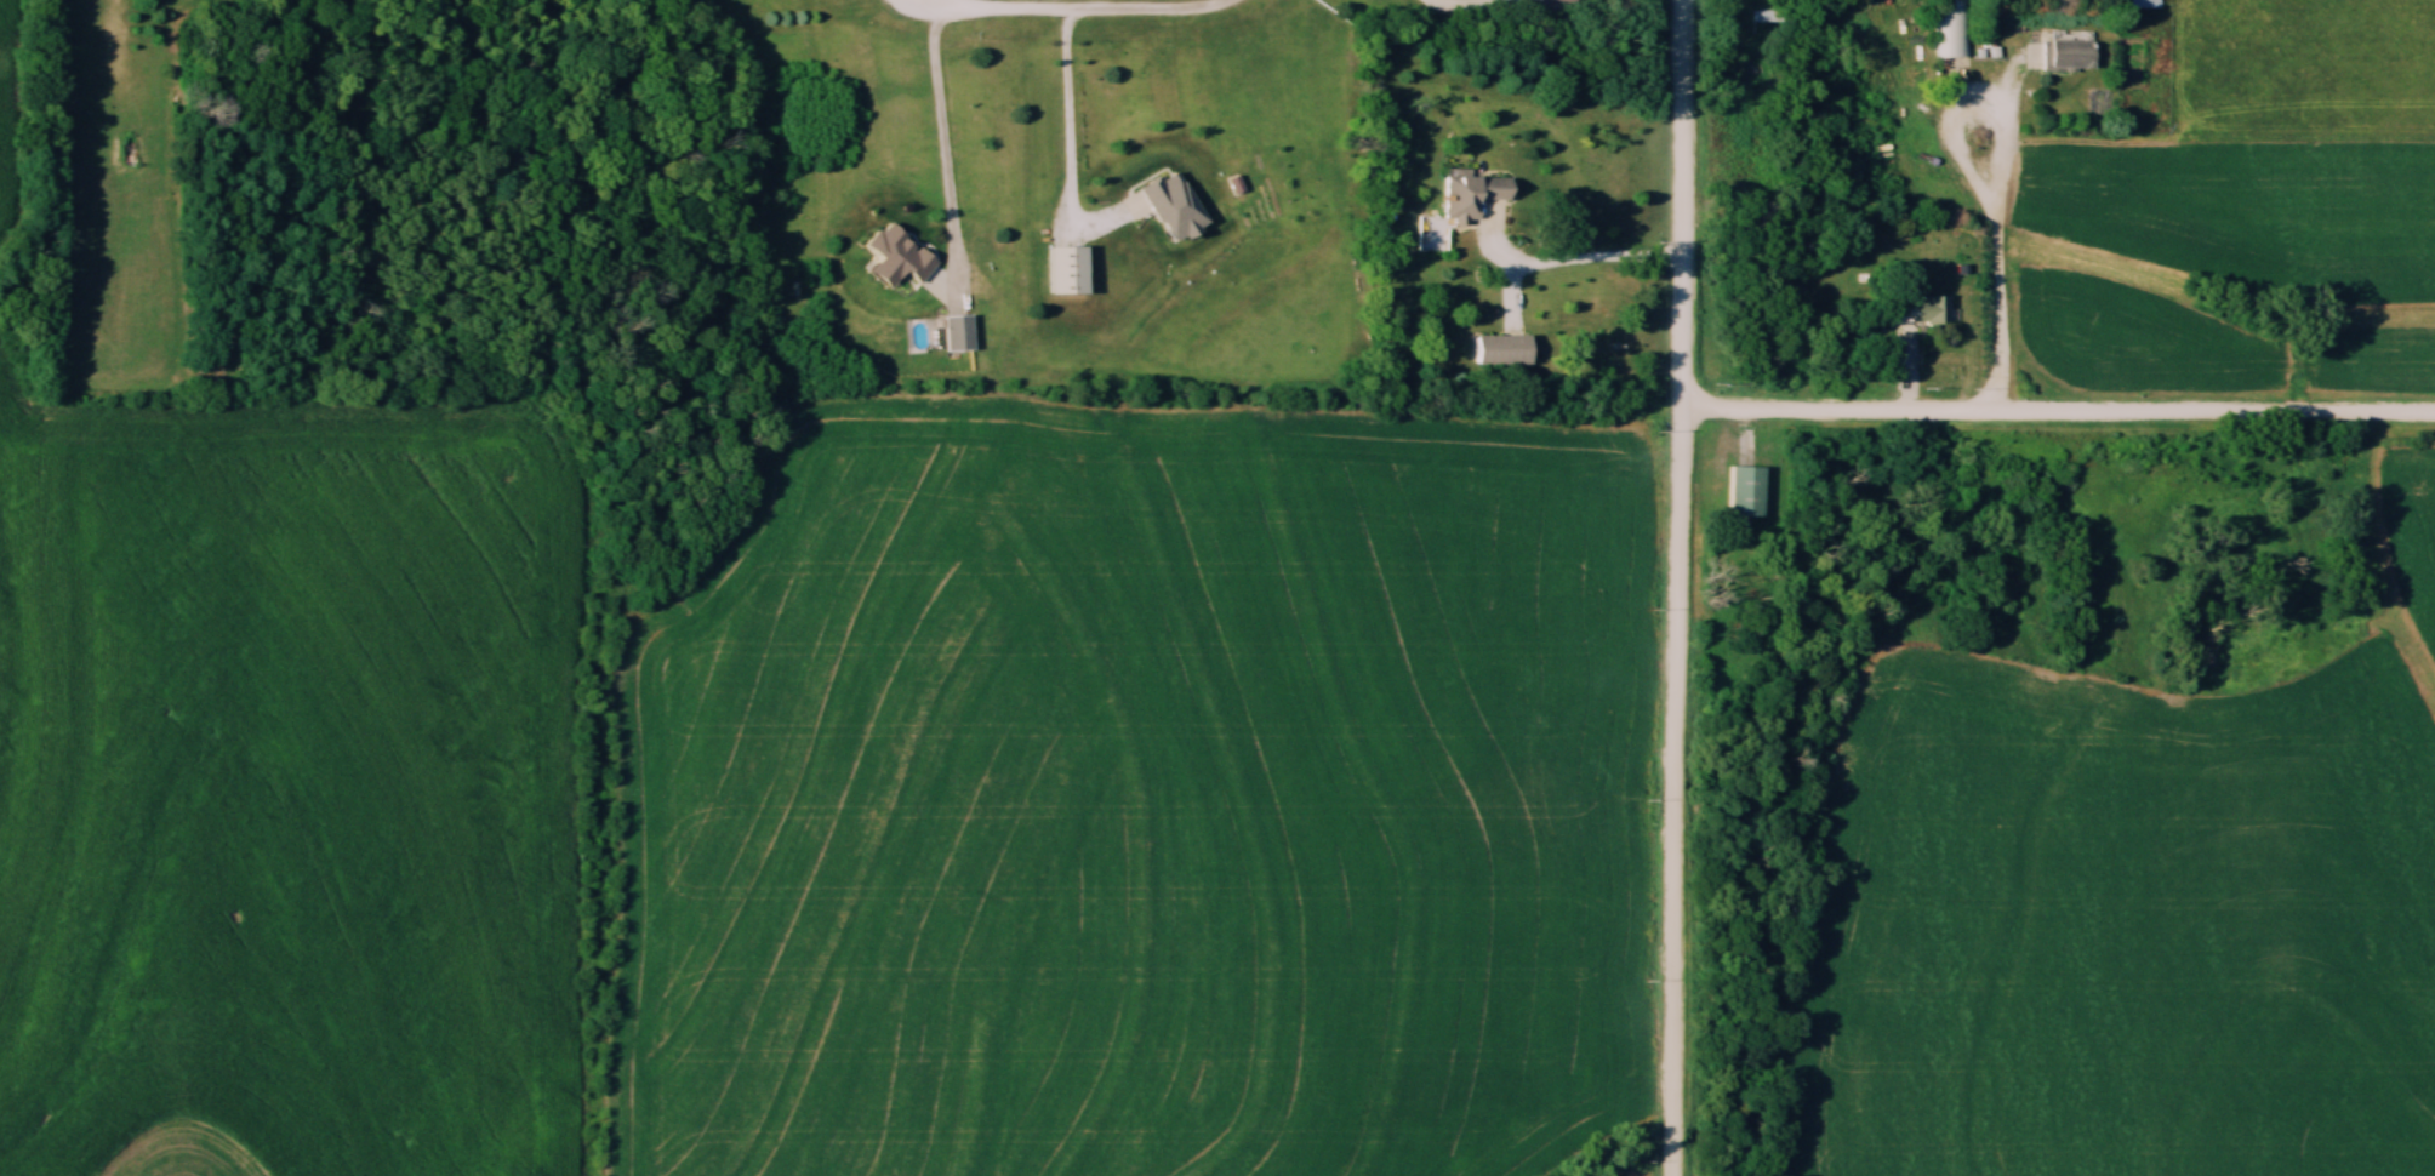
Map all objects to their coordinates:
building: (1563, 0)
road: (1461, 4)
building: (2145, 4)
road: (1084, 7)
building: (1762, 17)
building: (1950, 29)
building: (2070, 57)
road: (1068, 132)
road: (940, 141)
building: (1476, 198)
road: (1683, 205)
building: (1179, 210)
road: (1992, 238)
building: (901, 256)
road: (1575, 267)
building: (1933, 308)
building: (959, 333)
building: (1506, 352)
road: (2059, 412)
building: (1749, 490)
road: (1675, 792)

